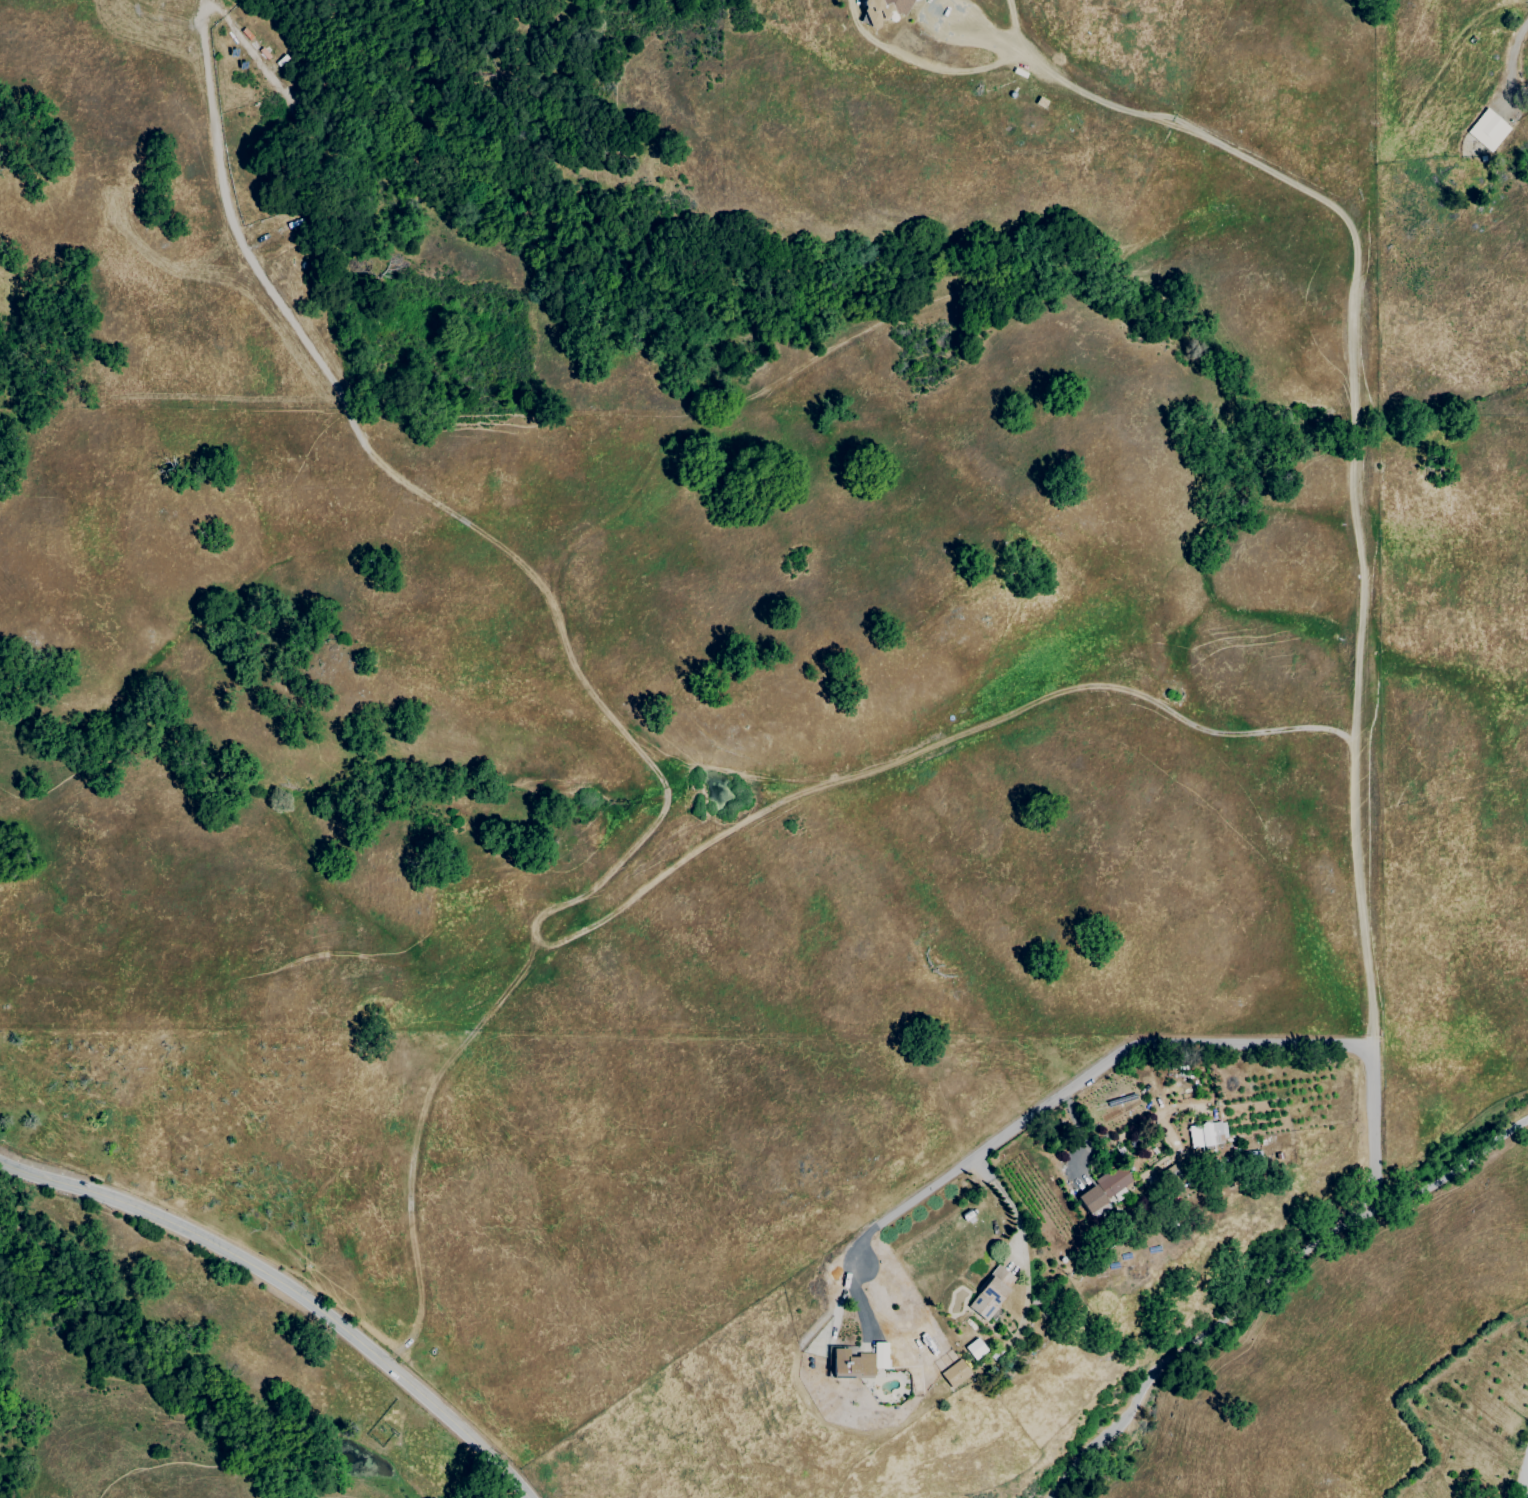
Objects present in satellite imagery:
building: (891, 10)
road: (1013, 24)
road: (920, 63)
building: (1486, 134)
road: (1505, 151)
road: (1356, 523)
road: (625, 851)
road: (1058, 1095)
building: (1206, 1134)
building: (1106, 1189)
road: (1001, 1199)
road: (1271, 1281)
road: (290, 1289)
building: (986, 1294)
building: (974, 1348)
building: (856, 1361)
building: (954, 1373)
road: (1526, 1495)

